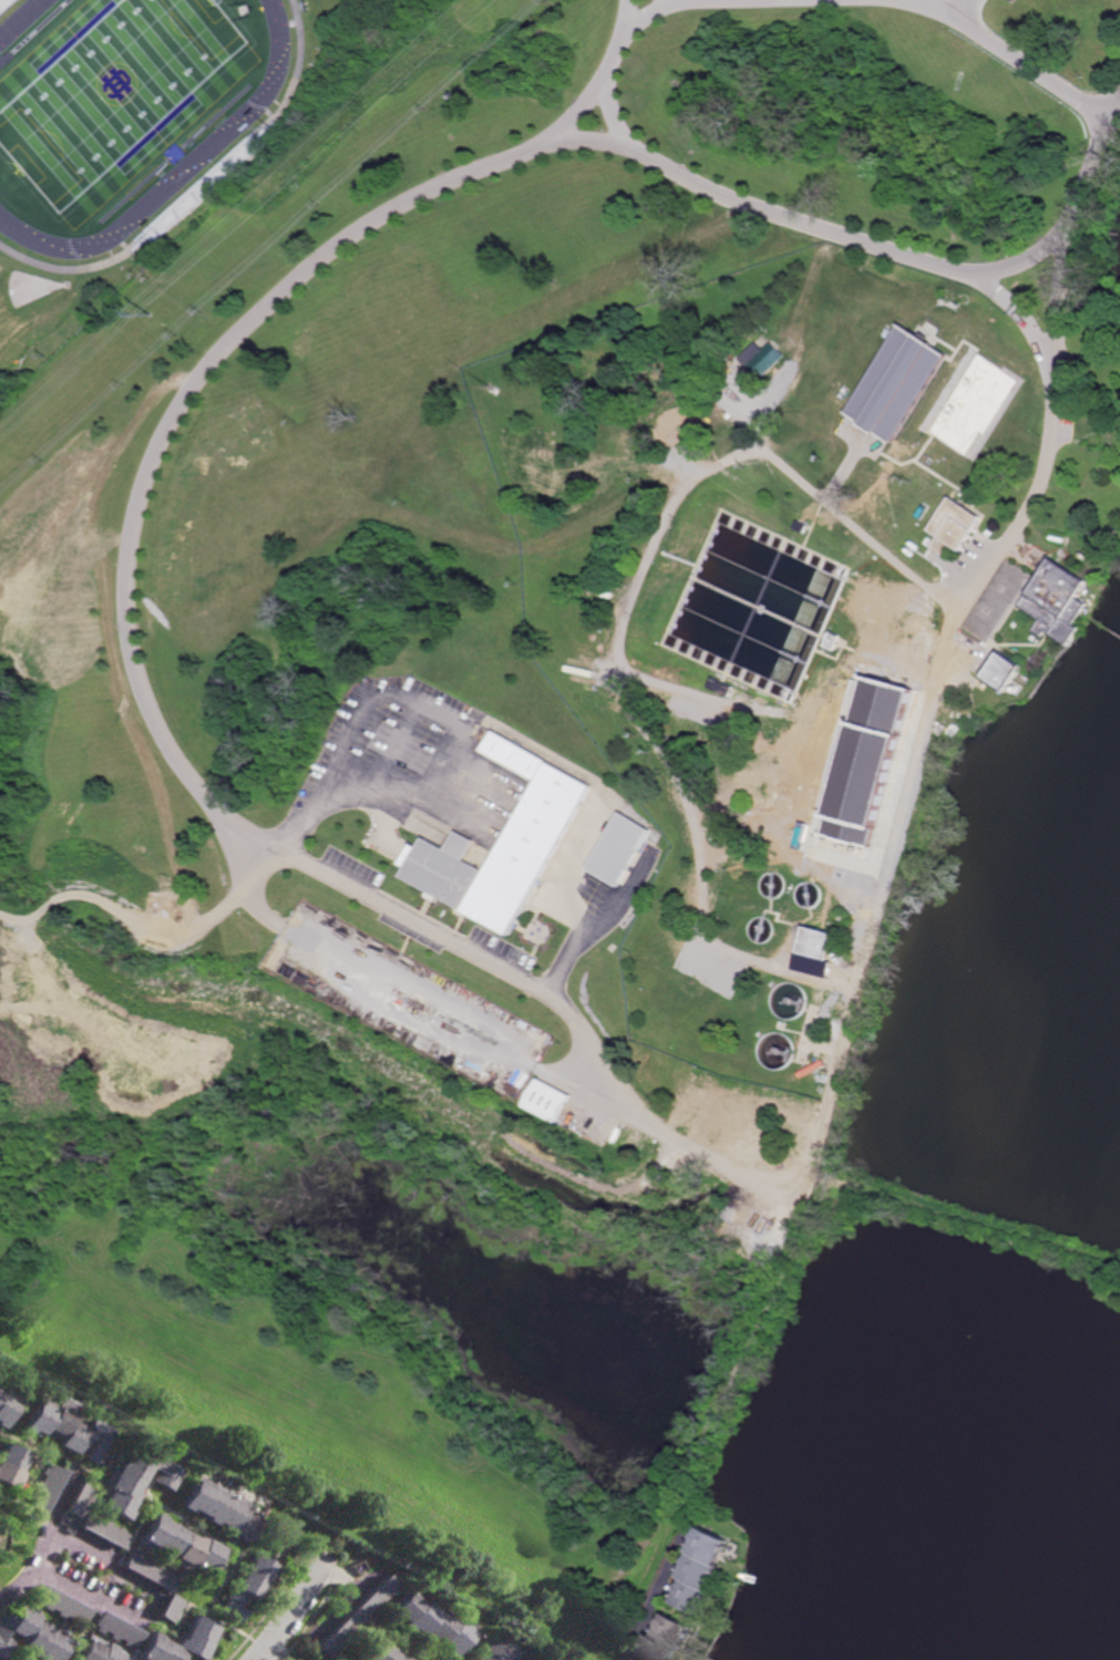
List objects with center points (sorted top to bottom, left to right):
road: (812, 1)
road: (910, 1)
building: (7, 6)
road: (952, 6)
track: (23, 20)
road: (643, 22)
road: (604, 81)
park: (115, 92)
building: (454, 96)
road: (614, 114)
road: (1099, 155)
track: (201, 162)
power tower: (153, 313)
road: (1021, 318)
building: (775, 330)
building: (764, 358)
building: (590, 377)
building: (897, 384)
building: (499, 390)
building: (1018, 447)
building: (841, 460)
building: (825, 484)
building: (922, 513)
building: (954, 526)
building: (801, 527)
building: (913, 549)
building: (646, 588)
building: (1058, 600)
building: (997, 601)
pier: (1103, 625)
road: (625, 626)
building: (835, 641)
building: (1004, 672)
building: (723, 688)
road: (512, 736)
building: (884, 753)
building: (511, 756)
road: (413, 788)
building: (831, 829)
building: (830, 838)
building: (846, 848)
building: (527, 849)
building: (619, 850)
road: (330, 873)
building: (445, 873)
building: (772, 885)
building: (810, 895)
building: (818, 944)
building: (790, 1001)
road: (392, 1013)
building: (778, 1051)
building: (547, 1101)
building: (7, 1405)
building: (69, 1431)
building: (12, 1465)
building: (135, 1483)
building: (45, 1488)
building: (79, 1502)
building: (217, 1509)
building: (103, 1530)
park: (3, 1538)
road: (44, 1540)
building: (177, 1546)
building: (258, 1571)
building: (148, 1573)
building: (706, 1573)
road: (662, 1596)
building: (61, 1607)
road: (151, 1607)
building: (168, 1609)
road: (297, 1610)
building: (358, 1618)
building: (431, 1625)
building: (127, 1636)
building: (32, 1637)
building: (671, 1641)
building: (492, 1651)
building: (99, 1652)
building: (381, 1652)
road: (276, 1653)
building: (404, 1659)

